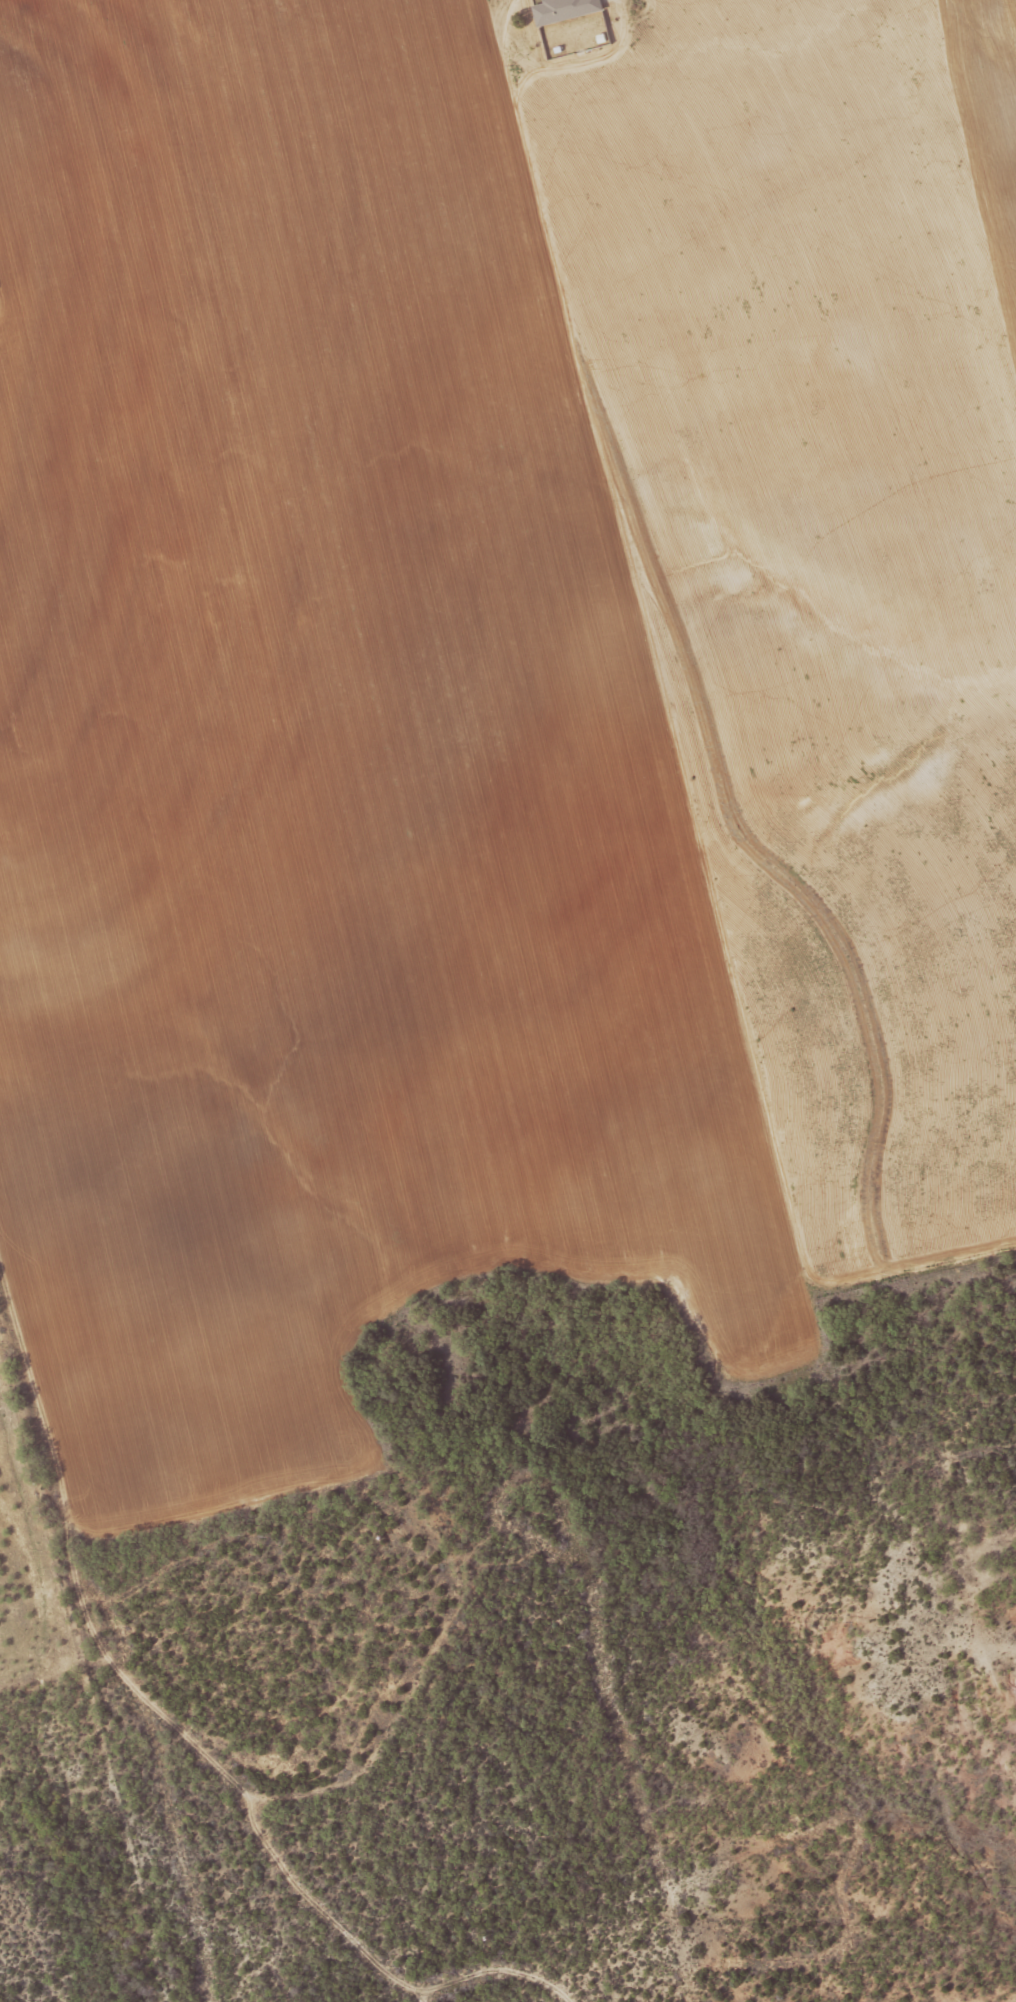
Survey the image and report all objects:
building: (567, 9)

